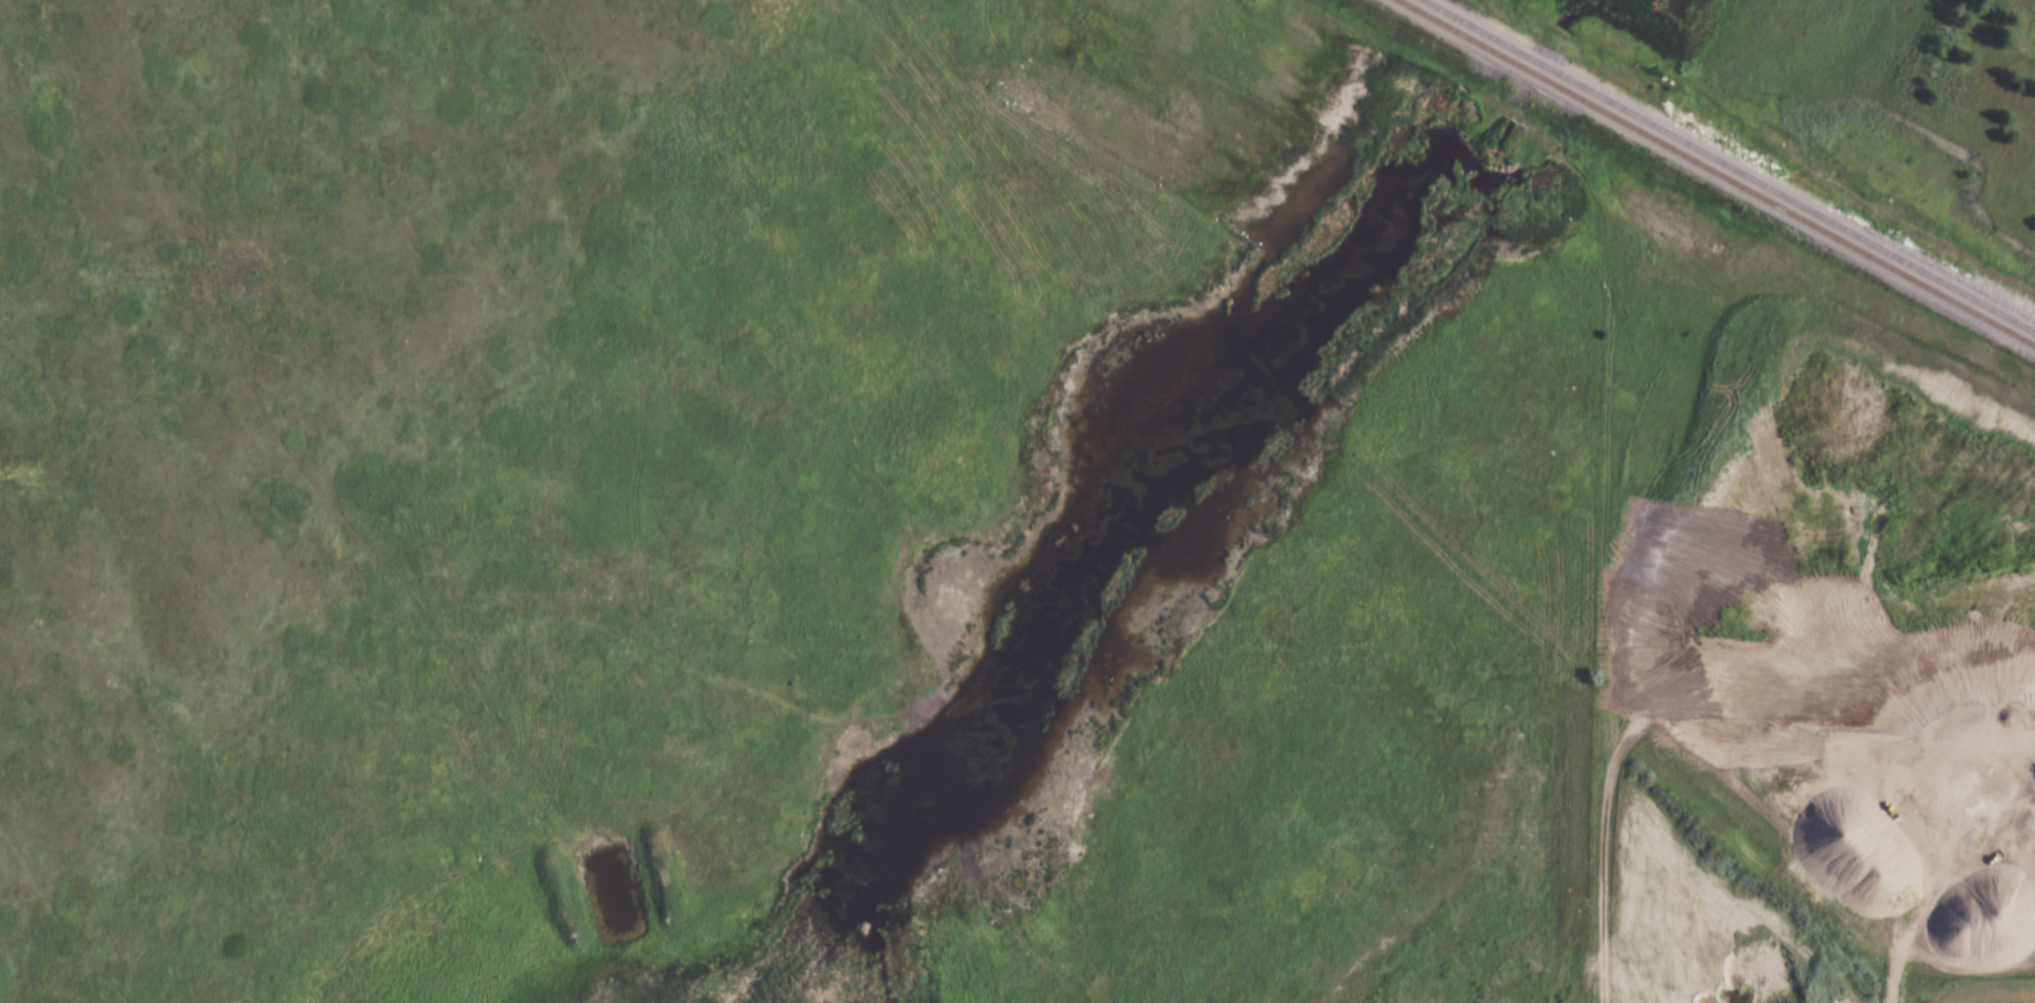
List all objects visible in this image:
railway: (1727, 167)
railway: (1715, 173)

